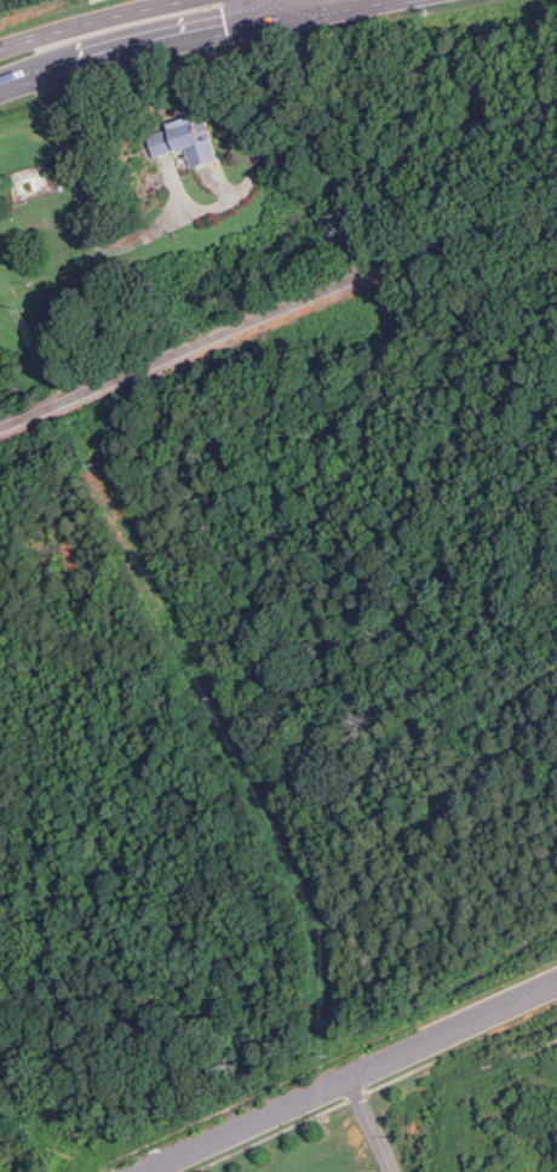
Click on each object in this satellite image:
road: (291, 10)
road: (239, 15)
traffic signals: (294, 21)
road: (94, 22)
traffic signals: (243, 30)
road: (199, 38)
building: (186, 139)
road: (172, 228)
railway: (275, 310)
road: (348, 1075)
road: (369, 1124)

